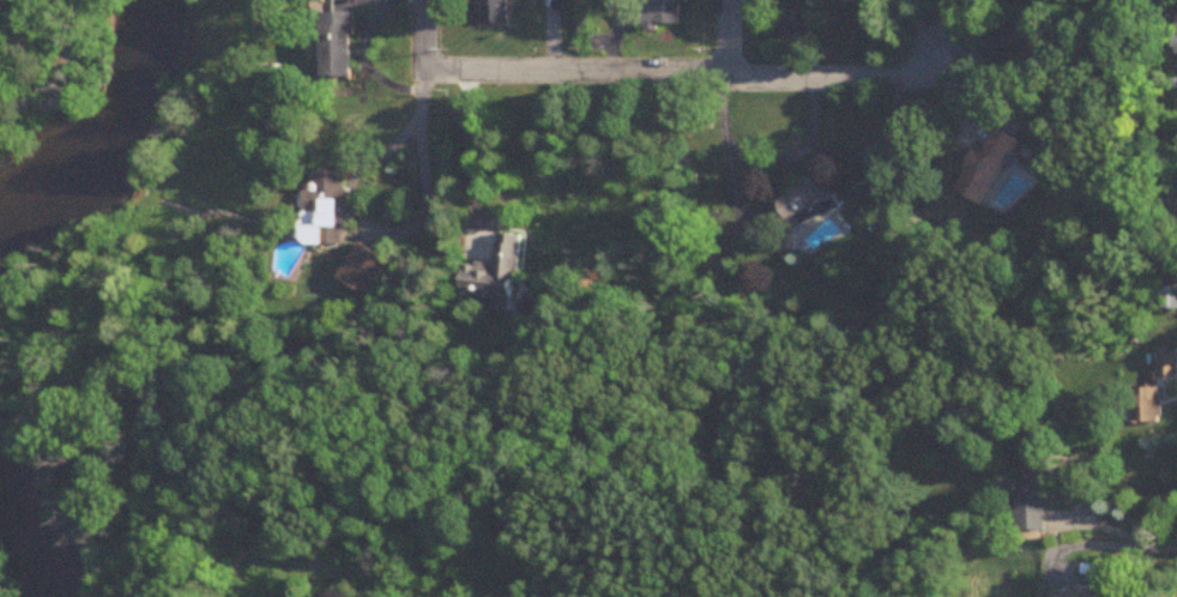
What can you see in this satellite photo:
building: (493, 12)
building: (664, 12)
building: (797, 24)
road: (420, 29)
road: (726, 40)
building: (1030, 44)
building: (338, 47)
road: (67, 52)
road: (688, 79)
road: (50, 121)
road: (409, 126)
river: (105, 129)
road: (471, 146)
building: (984, 170)
building: (325, 199)
building: (810, 201)
building: (363, 271)
building: (496, 275)
building: (1169, 300)
building: (1167, 368)
building: (1149, 408)
building: (1034, 497)
river: (30, 518)
road: (1103, 526)
road: (1160, 543)
road: (1098, 544)
road: (339, 583)
building: (1076, 595)

